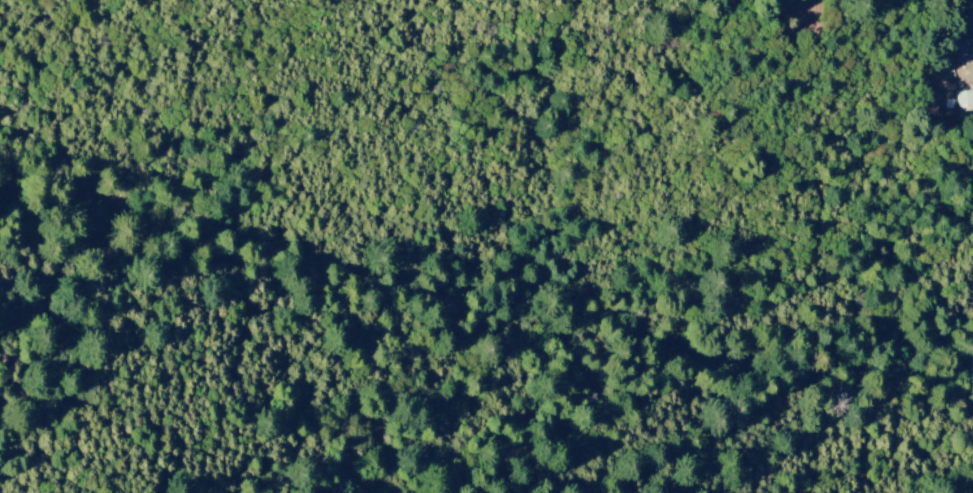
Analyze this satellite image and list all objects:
building: (959, 48)
building: (963, 101)

